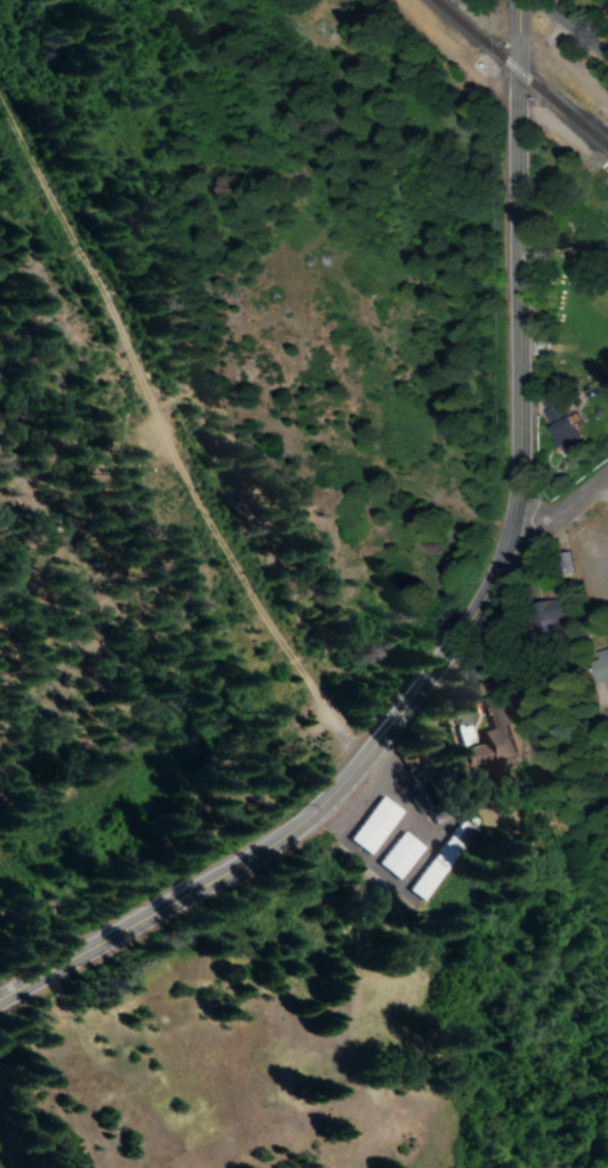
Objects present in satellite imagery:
road: (570, 30)
railway: (520, 76)
road: (516, 226)
building: (558, 429)
road: (558, 510)
building: (544, 614)
building: (598, 667)
building: (491, 745)
road: (346, 778)
building: (372, 826)
building: (398, 856)
building: (441, 861)
road: (15, 990)

